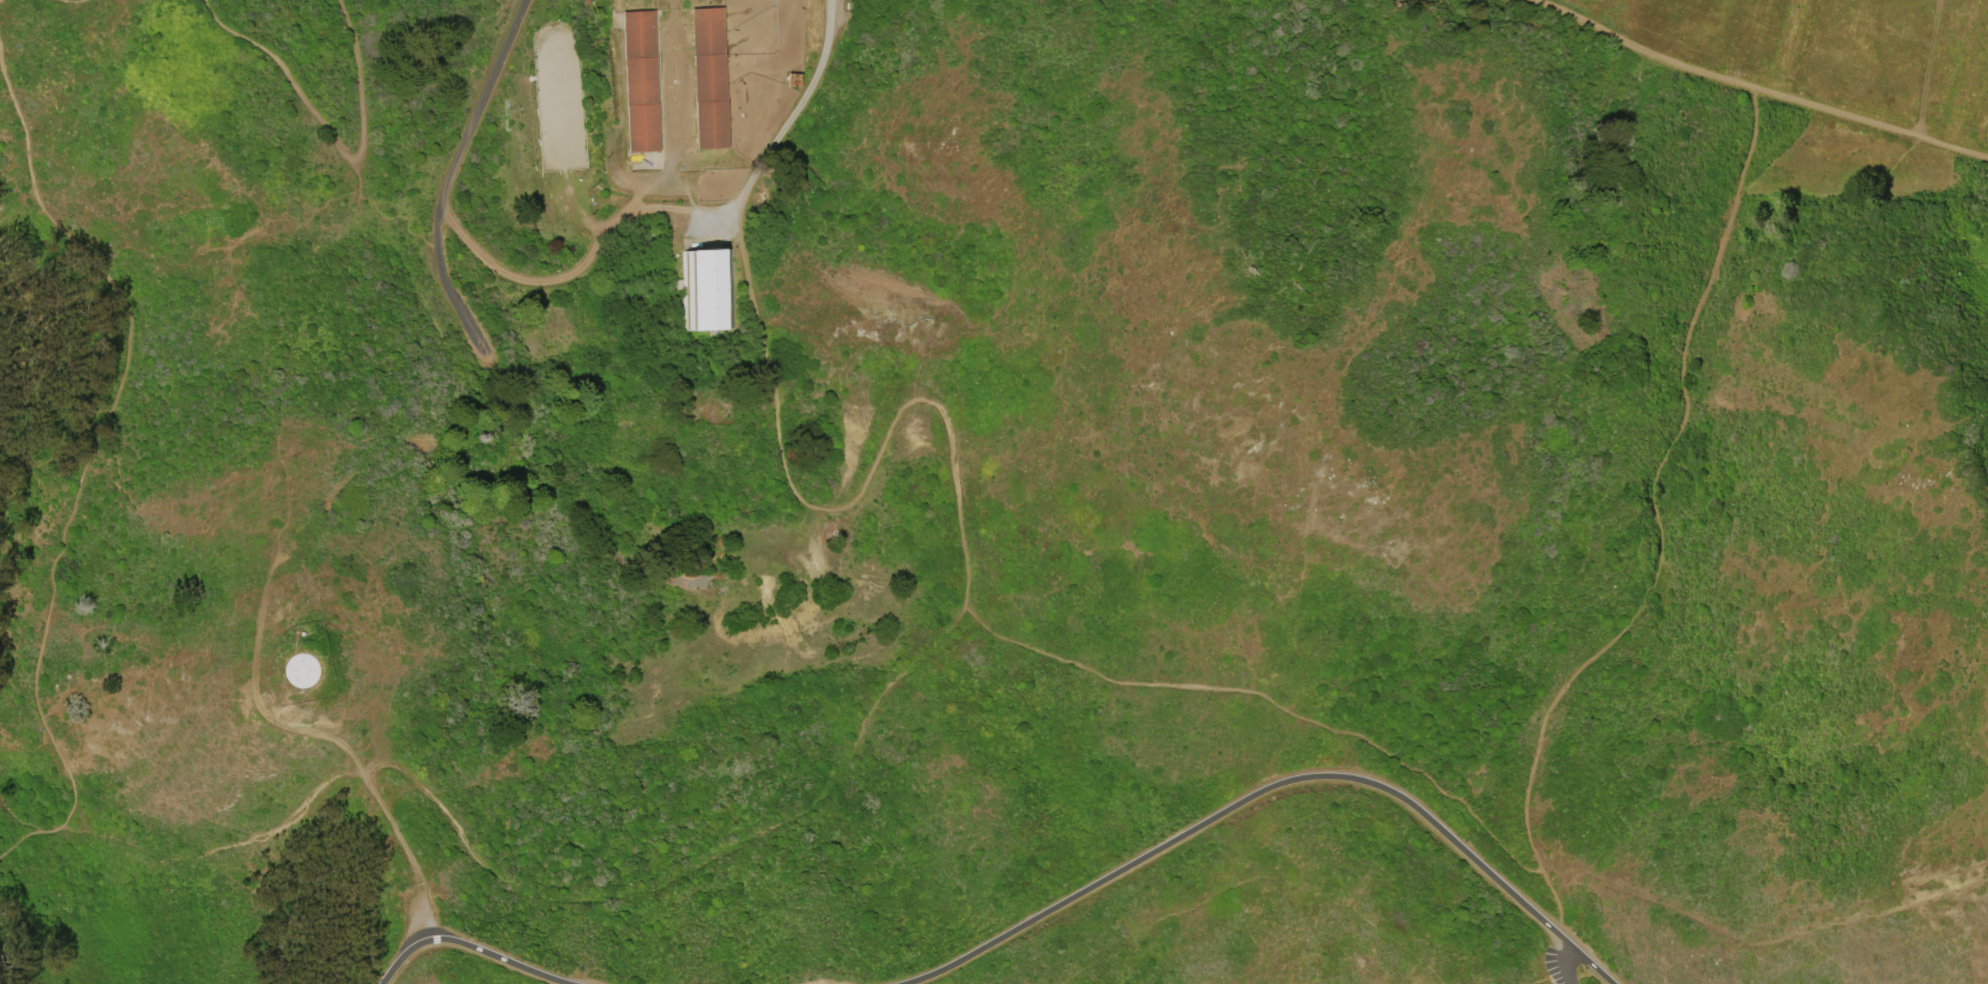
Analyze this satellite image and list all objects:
road: (71, 3)
road: (1929, 68)
building: (713, 76)
building: (641, 82)
road: (1757, 88)
road: (330, 136)
road: (452, 181)
road: (677, 209)
building: (708, 292)
road: (89, 461)
road: (850, 504)
road: (1656, 526)
building: (301, 670)
storage tank: (301, 670)
road: (1271, 702)
road: (329, 740)
road: (1276, 788)
road: (19, 811)
road: (687, 866)
parking lot: (417, 917)
road: (470, 948)
parking lot: (1567, 956)
road: (1577, 969)
road: (1590, 973)

